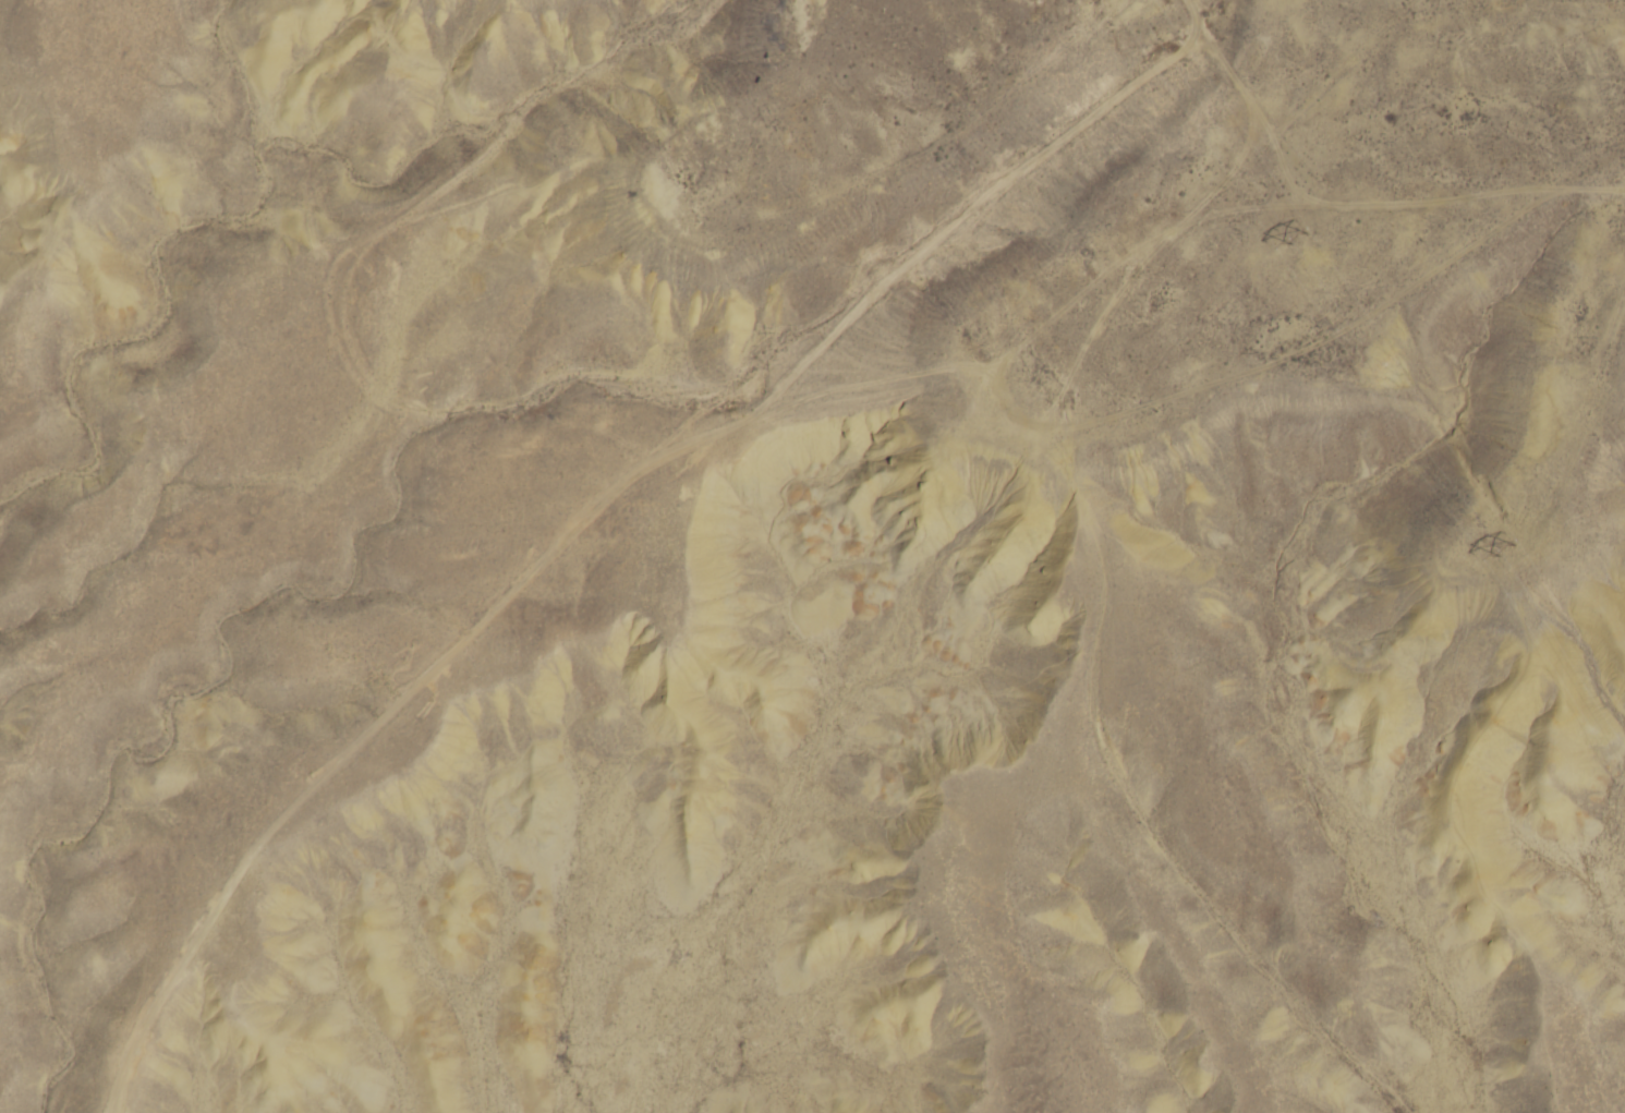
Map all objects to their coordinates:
power tower: (1298, 233)
power tower: (1506, 544)

